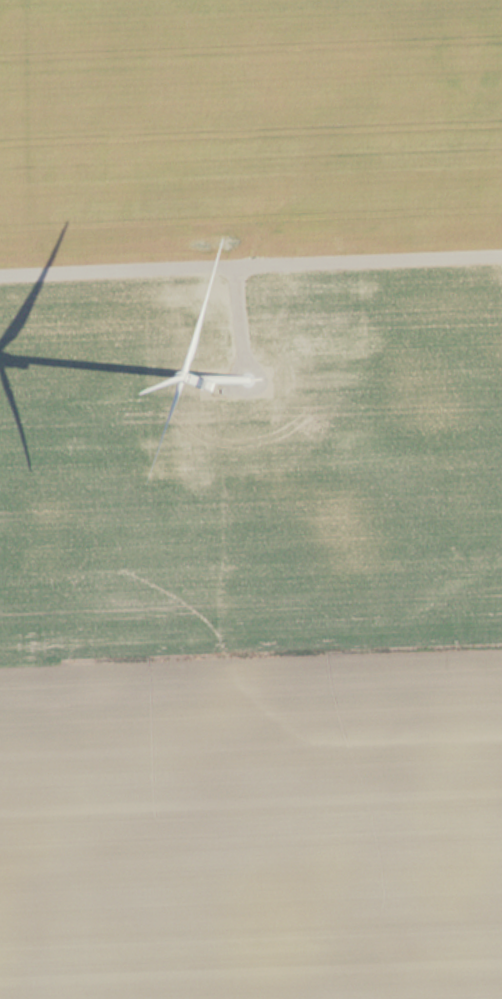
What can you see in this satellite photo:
wind turbine: (250, 384)

